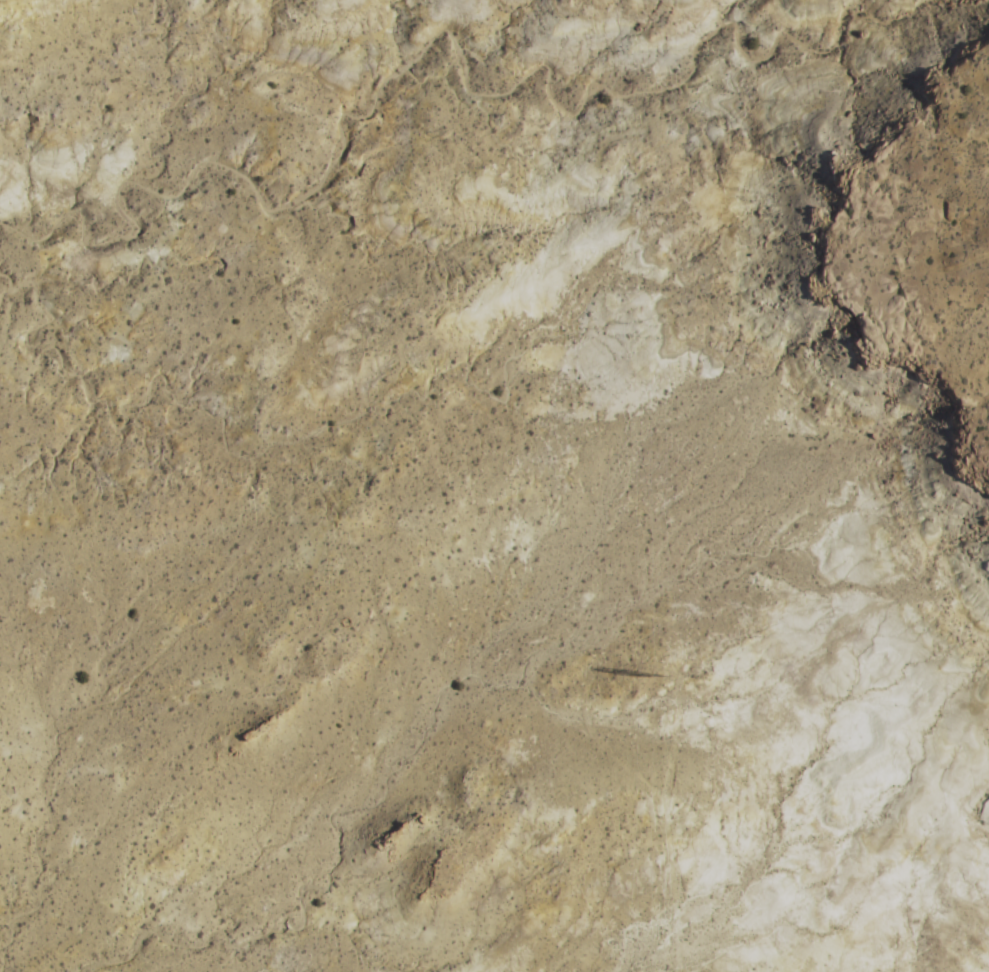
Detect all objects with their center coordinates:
power tower: (641, 675)

